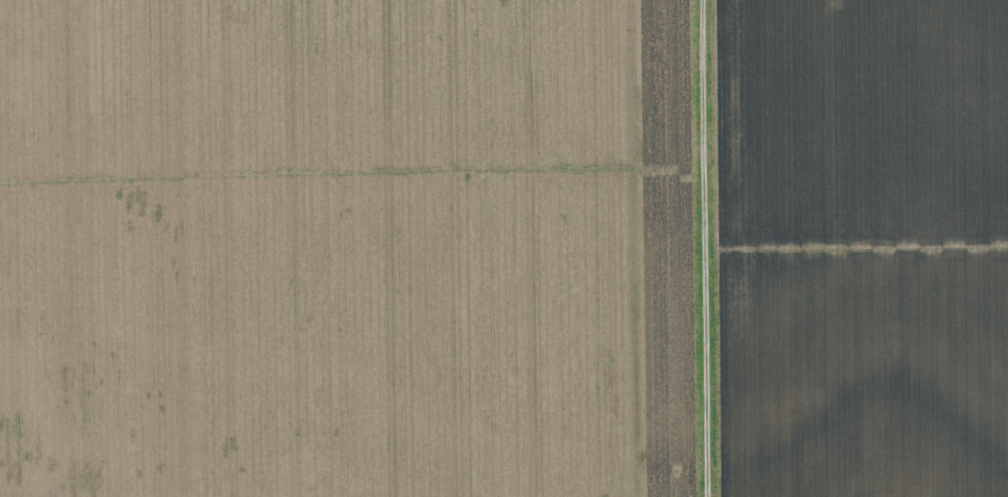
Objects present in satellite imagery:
road: (709, 248)

